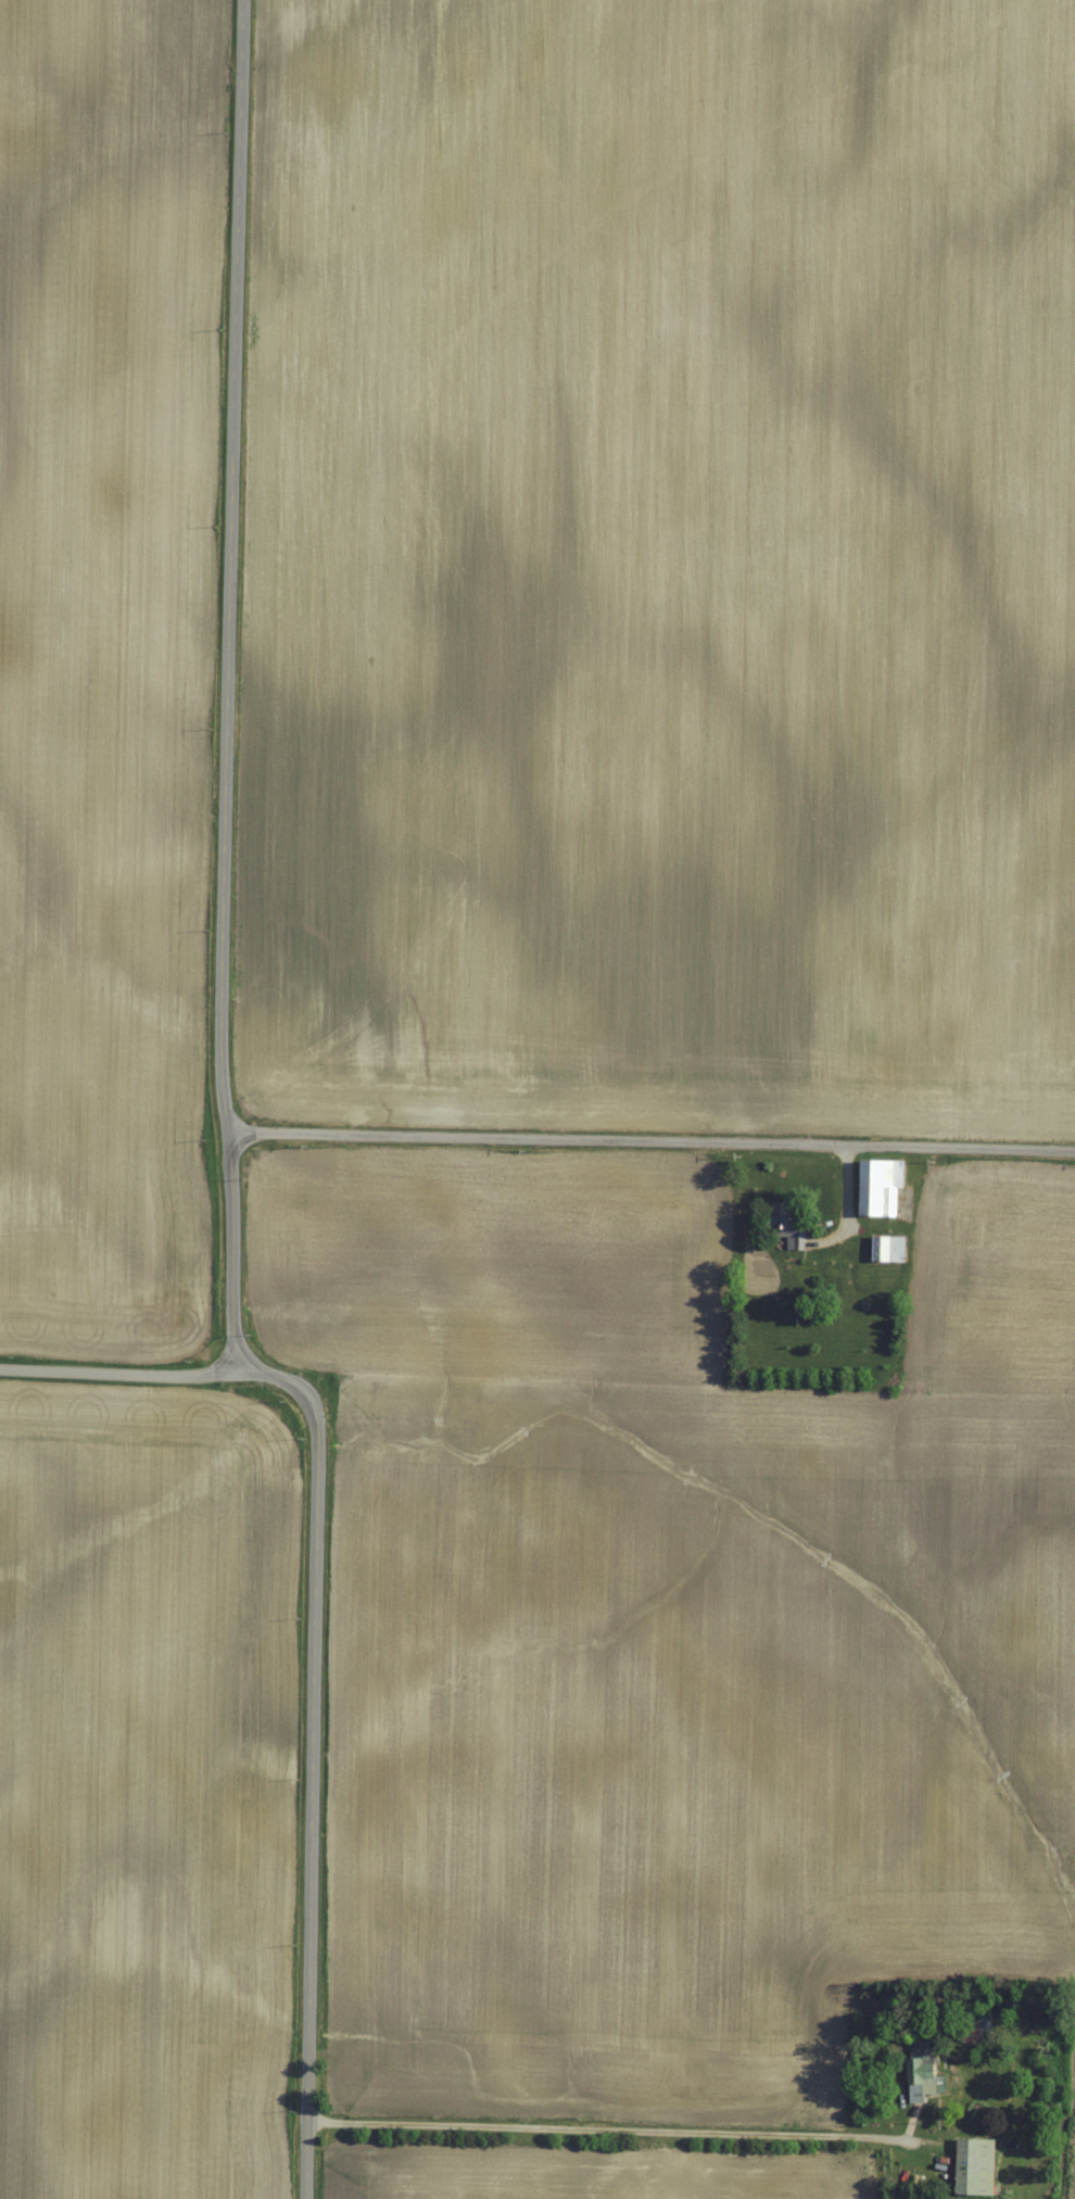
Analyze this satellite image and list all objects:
road: (224, 687)
road: (652, 1142)
road: (116, 1370)
road: (308, 1759)
road: (618, 2134)

